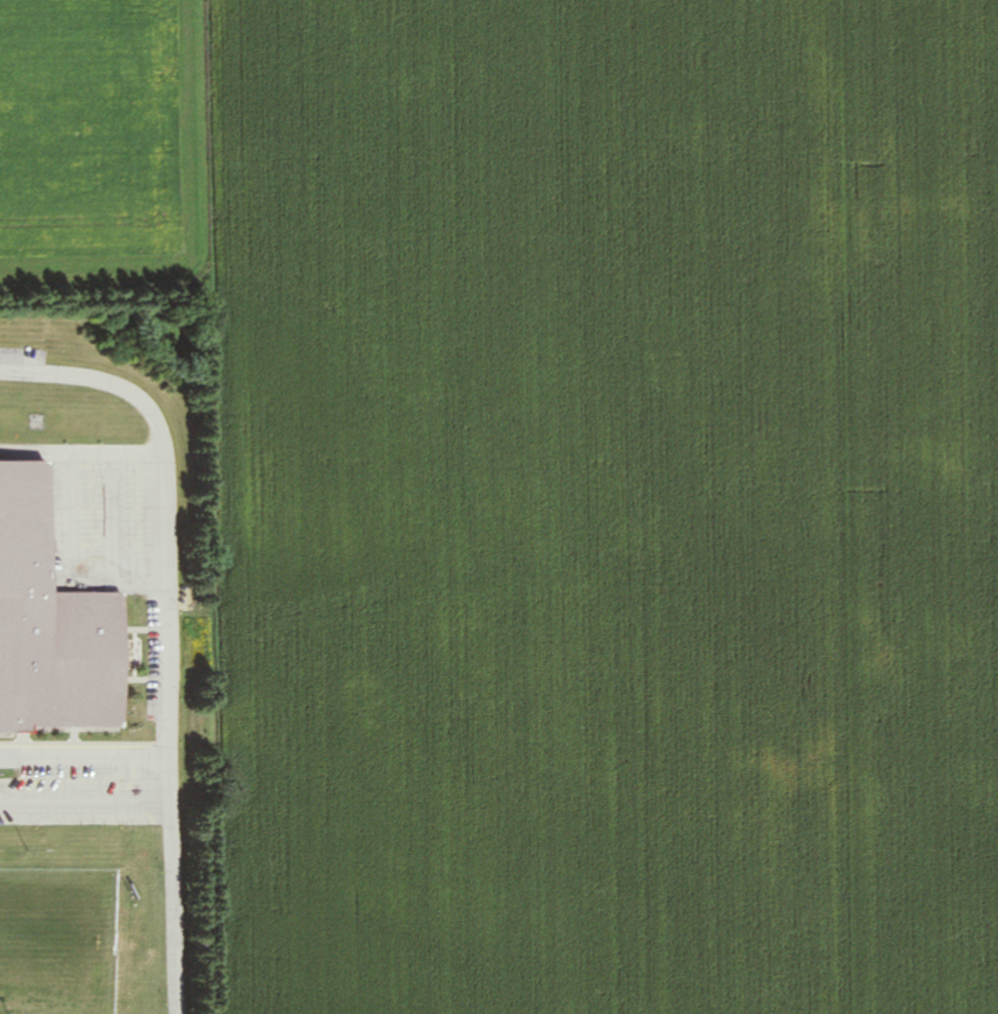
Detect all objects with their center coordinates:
parking lot: (23, 356)
parking lot: (113, 541)
building: (53, 624)
road: (172, 627)
road: (87, 755)
parking lot: (62, 794)
road: (88, 808)
park: (58, 942)

